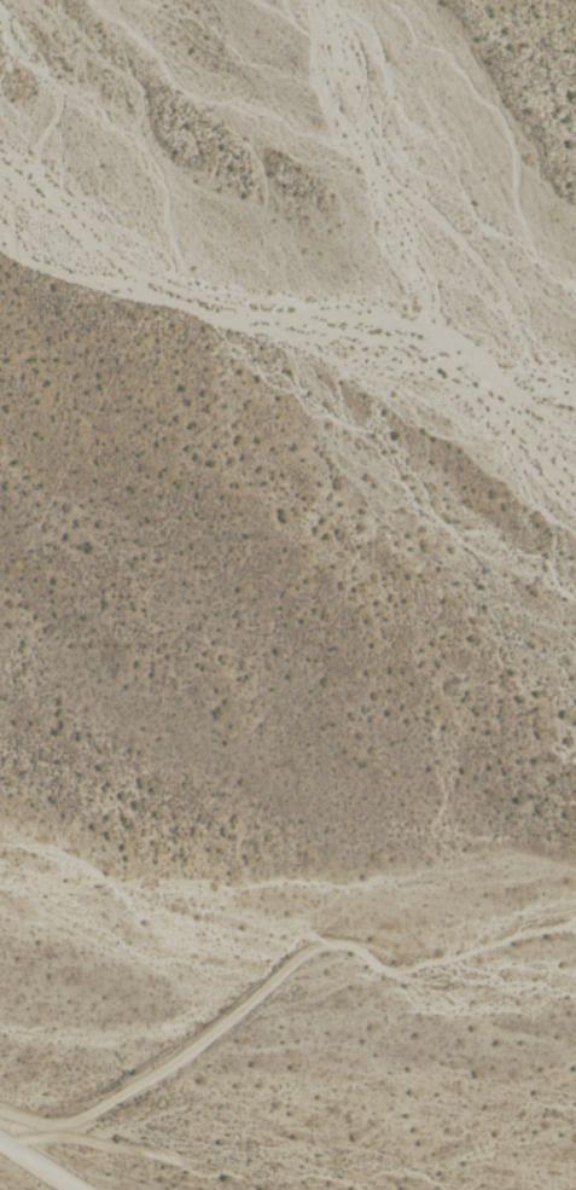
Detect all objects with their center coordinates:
road: (39, 1162)

